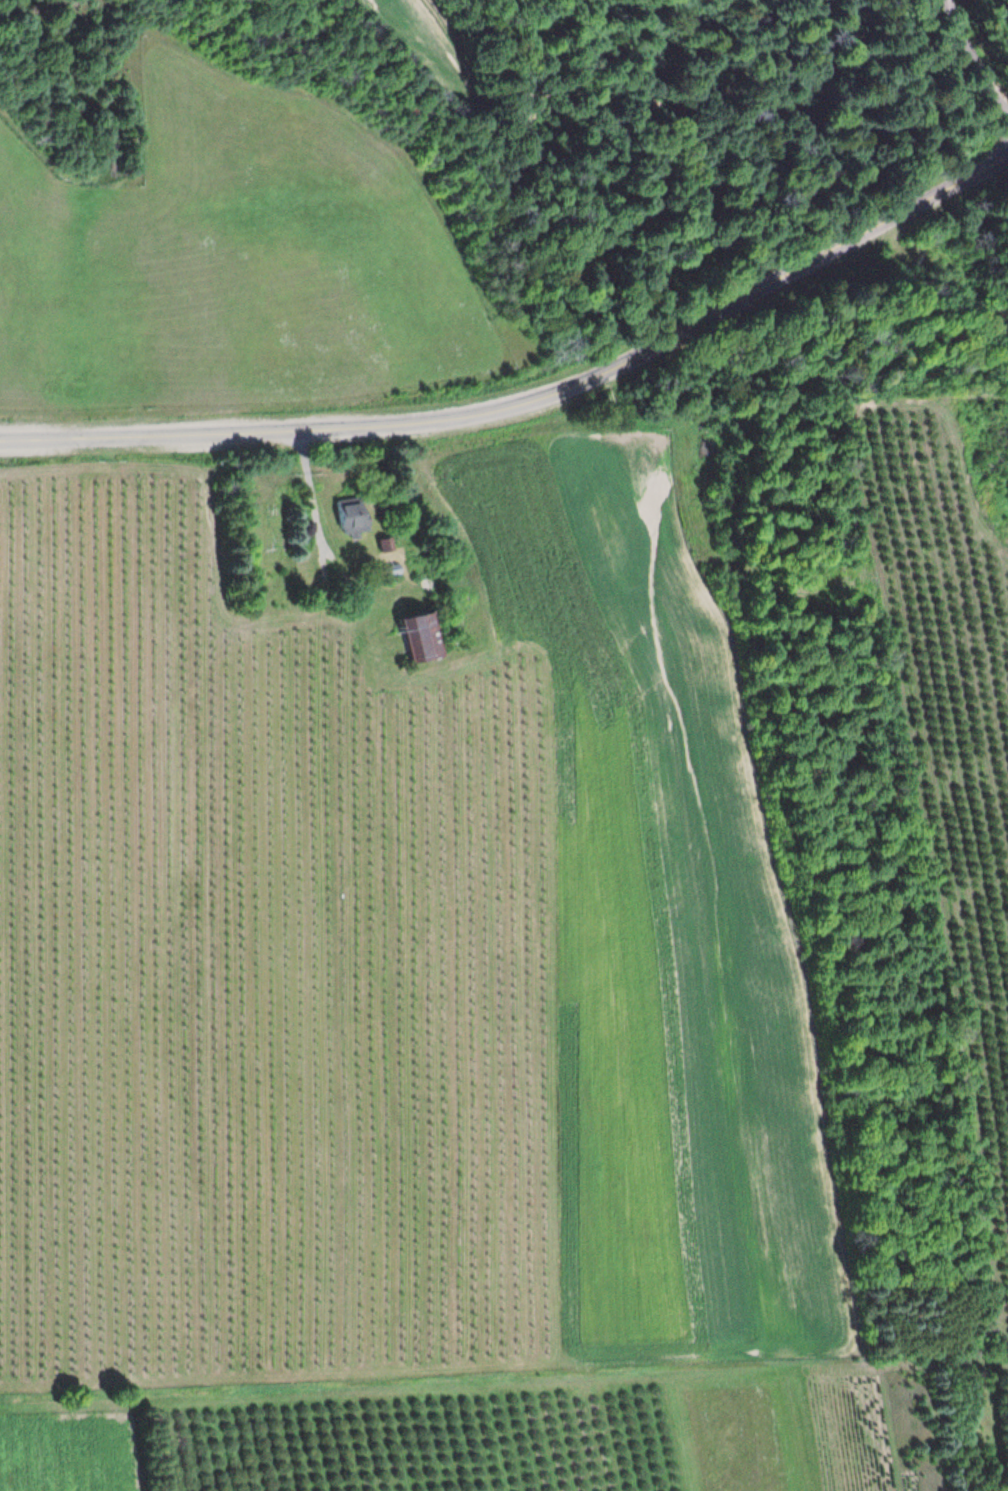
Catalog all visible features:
road: (533, 400)
building: (347, 516)
building: (416, 638)

